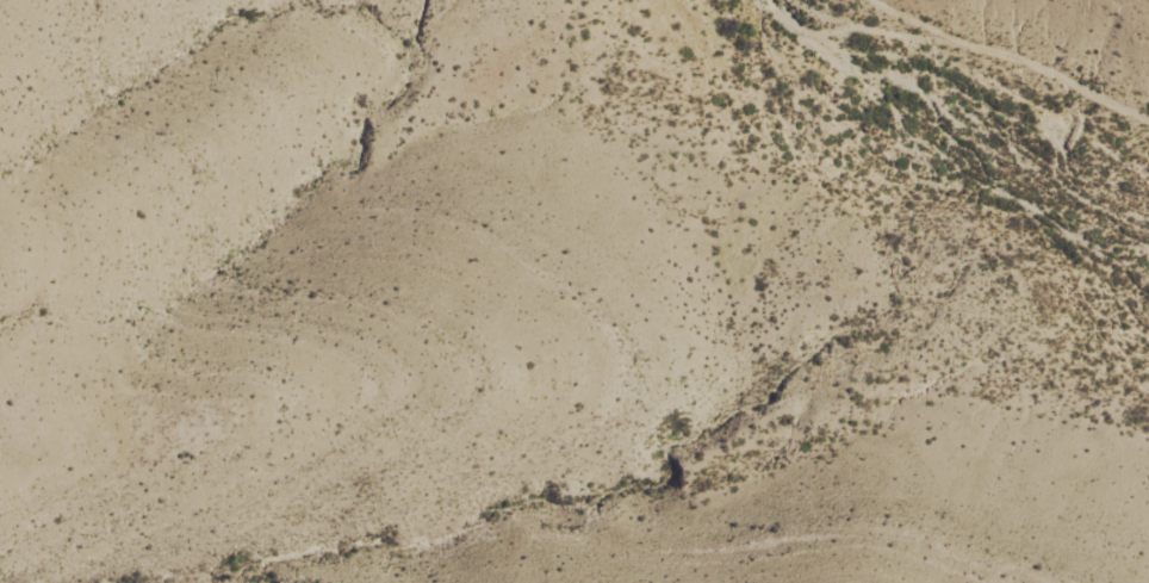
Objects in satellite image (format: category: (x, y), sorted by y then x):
road: (982, 68)

